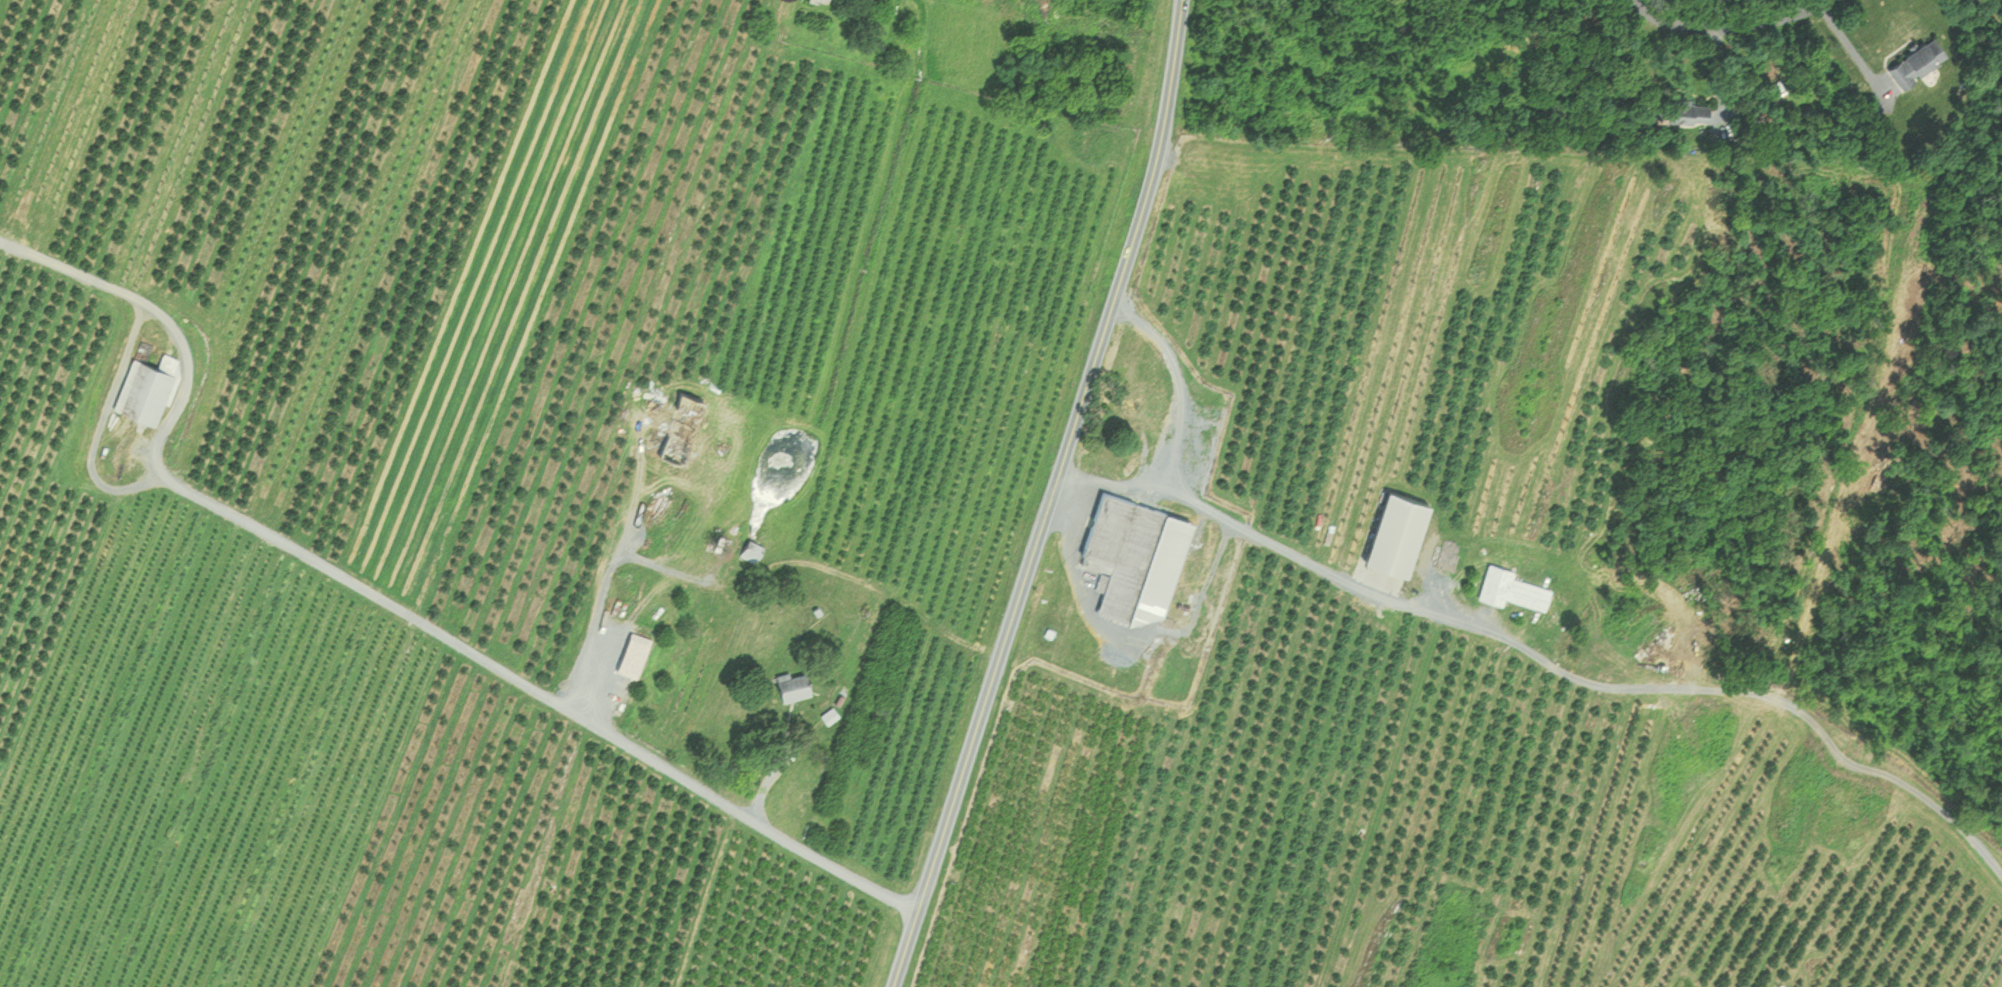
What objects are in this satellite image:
building: (828, 2)
building: (843, 4)
road: (1722, 24)
building: (1915, 59)
building: (1683, 108)
road: (1182, 383)
building: (153, 388)
building: (1126, 406)
building: (689, 427)
road: (1050, 497)
building: (1393, 532)
building: (753, 551)
building: (1129, 554)
building: (1511, 588)
road: (386, 600)
road: (599, 612)
road: (1546, 659)
building: (793, 685)

